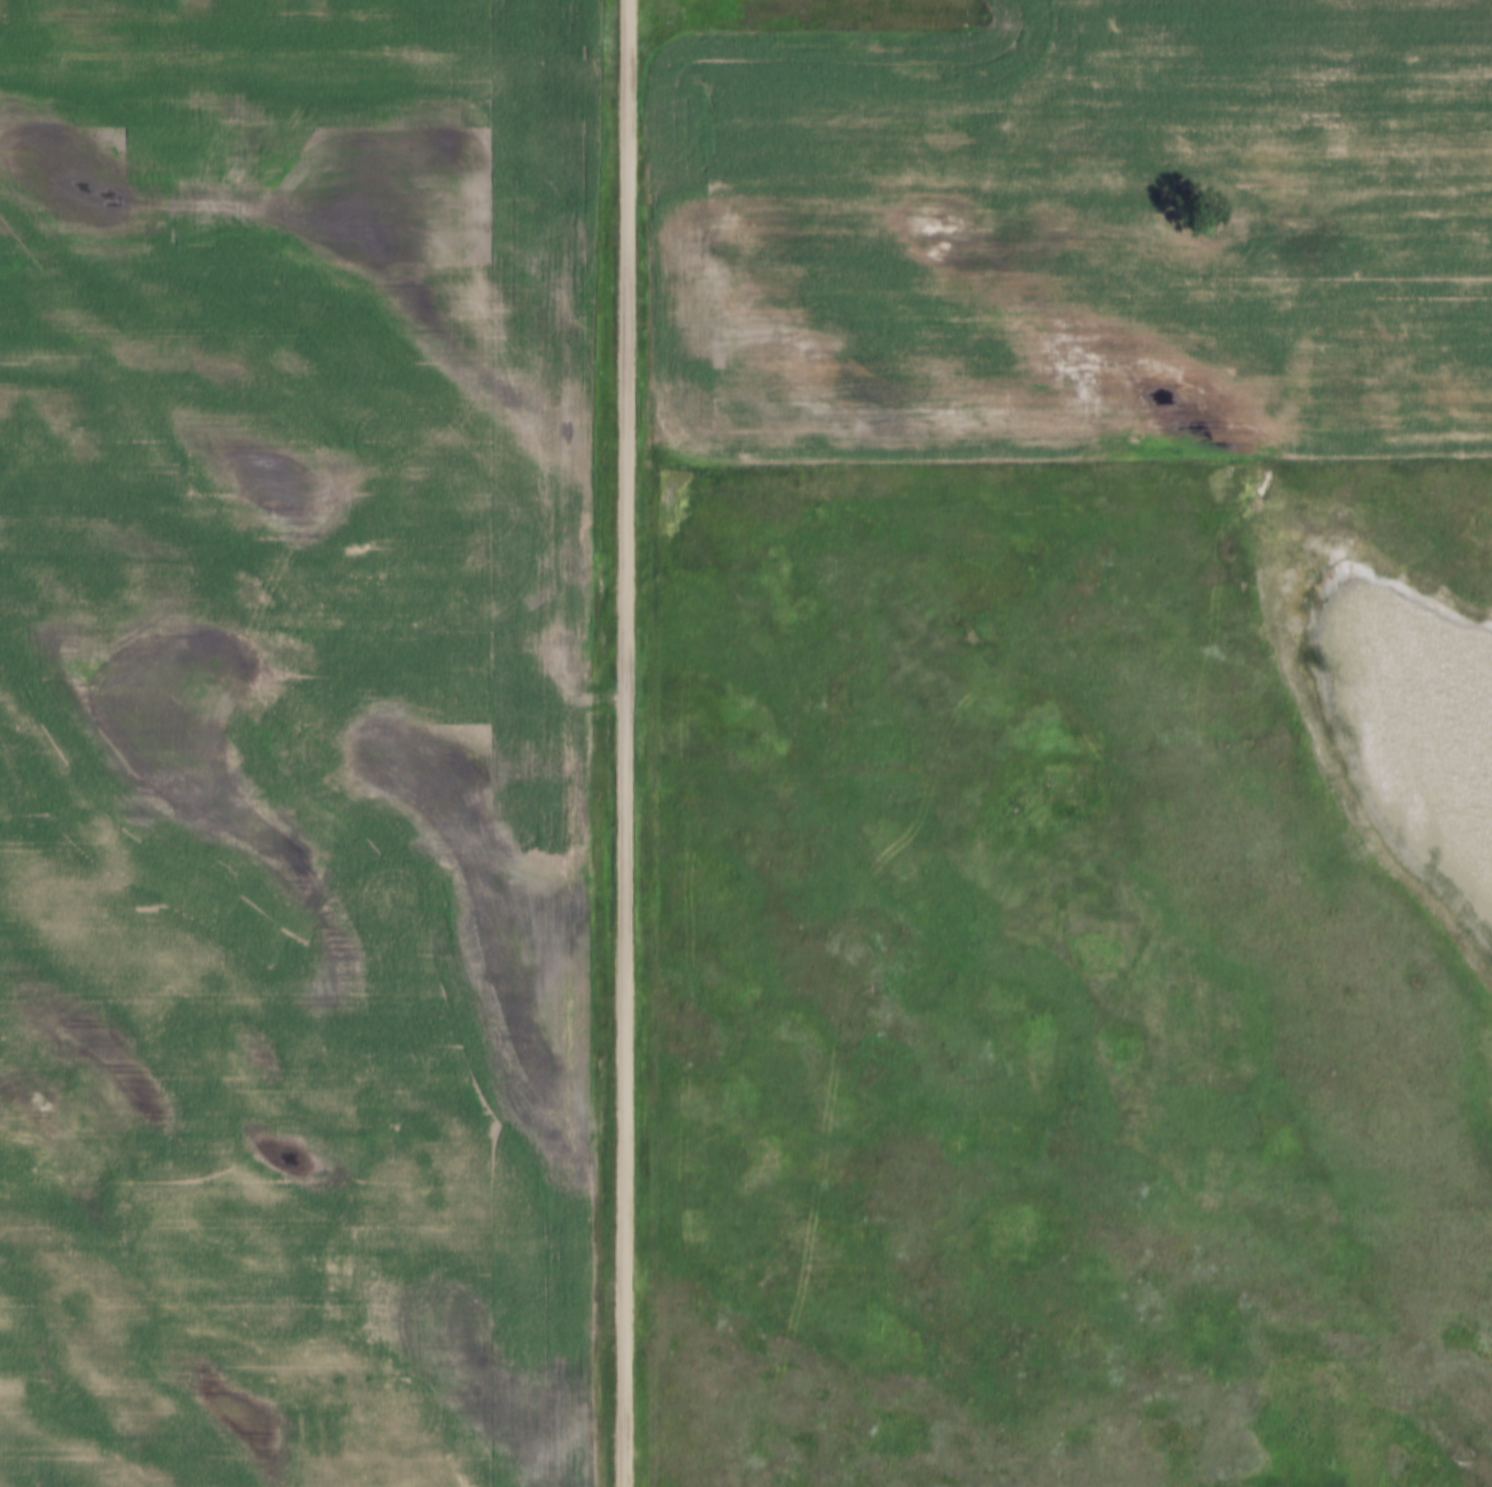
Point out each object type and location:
road: (627, 743)

